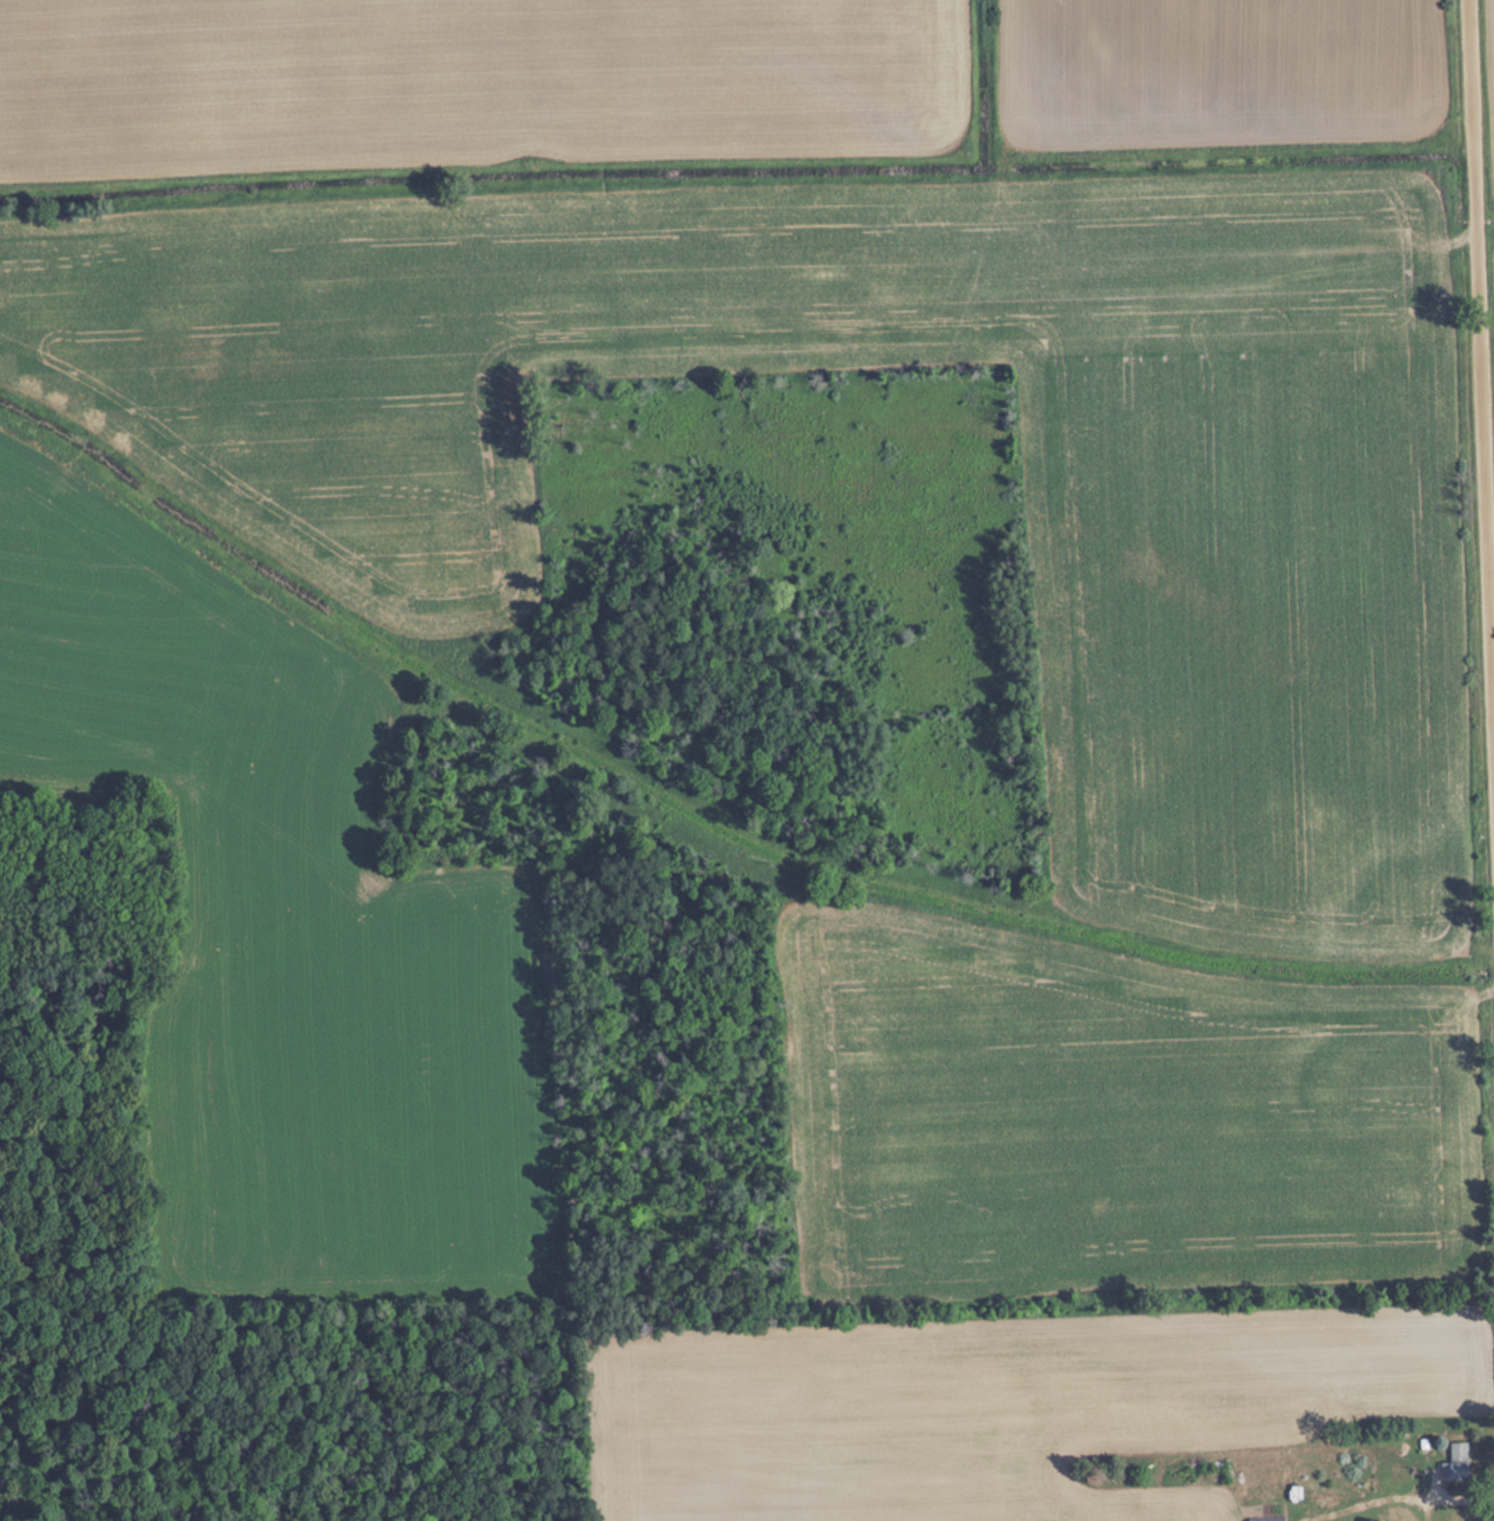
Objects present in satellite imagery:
road: (1481, 372)
building: (1456, 1462)

